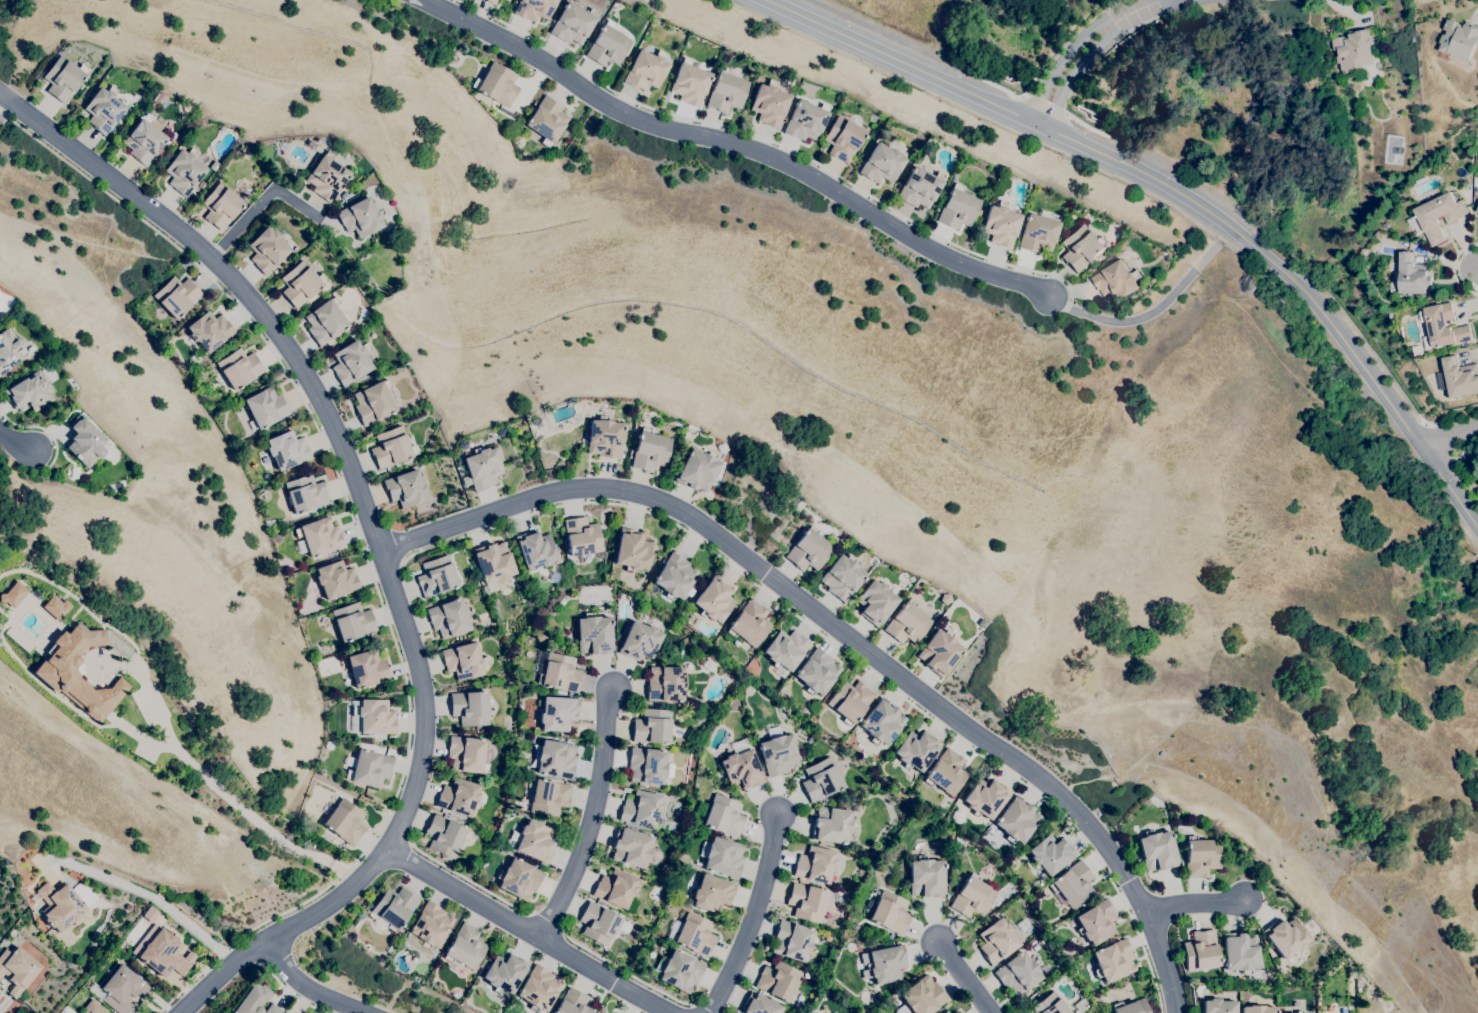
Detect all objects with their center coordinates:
building: (508, 0)
building: (492, 1)
road: (1156, 4)
building: (534, 9)
building: (573, 23)
building: (1459, 39)
building: (608, 45)
building: (1353, 49)
road: (1069, 50)
road: (1085, 63)
building: (646, 70)
road: (972, 73)
building: (64, 78)
building: (689, 83)
building: (497, 84)
building: (726, 91)
building: (769, 104)
road: (1043, 104)
building: (104, 108)
road: (1015, 115)
building: (546, 120)
building: (806, 120)
building: (152, 122)
building: (843, 139)
building: (145, 141)
road: (734, 142)
road: (775, 143)
building: (882, 164)
building: (214, 165)
road: (1169, 169)
building: (184, 171)
building: (327, 177)
building: (1475, 182)
building: (920, 187)
building: (1475, 194)
road: (256, 204)
building: (220, 206)
building: (958, 208)
building: (1477, 211)
building: (1438, 216)
building: (360, 217)
building: (1001, 224)
building: (1039, 233)
building: (1403, 244)
building: (1081, 247)
building: (267, 250)
road: (1272, 250)
road: (1266, 258)
road: (1477, 270)
building: (1413, 276)
road: (1451, 277)
building: (1116, 281)
building: (301, 283)
building: (177, 296)
road: (1151, 309)
building: (326, 322)
building: (1441, 326)
building: (210, 330)
building: (10, 349)
road: (1374, 359)
building: (351, 362)
building: (239, 368)
building: (1459, 377)
road: (1383, 389)
building: (31, 392)
building: (374, 403)
building: (266, 407)
road: (45, 431)
building: (605, 437)
road: (1451, 437)
road: (1434, 441)
building: (86, 442)
road: (14, 443)
building: (391, 447)
building: (287, 449)
building: (650, 450)
building: (482, 468)
building: (698, 470)
road: (352, 480)
road: (1463, 480)
building: (405, 489)
building: (306, 493)
building: (319, 536)
building: (582, 536)
road: (365, 548)
building: (535, 549)
building: (632, 550)
building: (809, 550)
building: (494, 562)
road: (389, 568)
building: (436, 576)
building: (675, 576)
building: (842, 577)
building: (336, 579)
building: (11, 594)
building: (714, 599)
building: (494, 602)
building: (876, 602)
building: (55, 607)
building: (449, 618)
building: (353, 621)
building: (749, 623)
building: (907, 623)
road: (846, 632)
building: (594, 634)
building: (540, 635)
building: (640, 641)
building: (785, 649)
road: (843, 649)
building: (940, 651)
building: (464, 661)
building: (367, 668)
building: (77, 671)
building: (817, 671)
building: (560, 672)
building: (665, 683)
building: (850, 701)
building: (470, 708)
building: (558, 713)
building: (375, 716)
building: (882, 721)
building: (652, 726)
building: (811, 739)
building: (916, 750)
building: (778, 754)
building: (467, 755)
building: (554, 758)
building: (649, 766)
building: (370, 768)
building: (741, 769)
building: (947, 772)
building: (820, 779)
road: (214, 784)
building: (459, 796)
building: (550, 797)
building: (986, 797)
building: (641, 808)
road: (595, 815)
building: (724, 816)
building: (1017, 820)
building: (345, 822)
building: (831, 825)
building: (445, 835)
building: (535, 842)
road: (405, 847)
building: (631, 847)
building: (1157, 850)
building: (1050, 854)
building: (1201, 856)
building: (724, 857)
building: (815, 865)
building: (926, 877)
road: (469, 878)
building: (519, 879)
building: (1072, 884)
building: (615, 889)
building: (712, 893)
road: (153, 894)
building: (972, 897)
road: (1196, 901)
building: (807, 902)
building: (60, 905)
building: (393, 907)
building: (890, 912)
building: (149, 914)
road: (753, 915)
road: (547, 920)
building: (1096, 922)
building: (598, 923)
building: (431, 925)
building: (854, 926)
road: (530, 930)
building: (695, 934)
building: (1286, 937)
building: (792, 940)
building: (997, 941)
building: (465, 947)
building: (1201, 950)
building: (161, 952)
building: (1240, 952)
road: (269, 958)
building: (1114, 960)
building: (886, 963)
building: (17, 969)
road: (223, 970)
building: (677, 970)
building: (505, 971)
road: (627, 971)
building: (1017, 973)
road: (965, 976)
building: (778, 981)
road: (311, 987)
building: (539, 988)
building: (120, 990)
road: (291, 991)
building: (923, 996)
building: (256, 1001)
building: (572, 1003)
building: (760, 1005)
building: (1050, 1005)
building: (1218, 1006)
road: (702, 1007)
building: (1131, 1007)
building: (93, 1008)
building: (1258, 1009)
building: (946, 1011)
building: (231, 1012)
building: (614, 1012)
building: (1280, 1012)
building: (1299, 1012)

